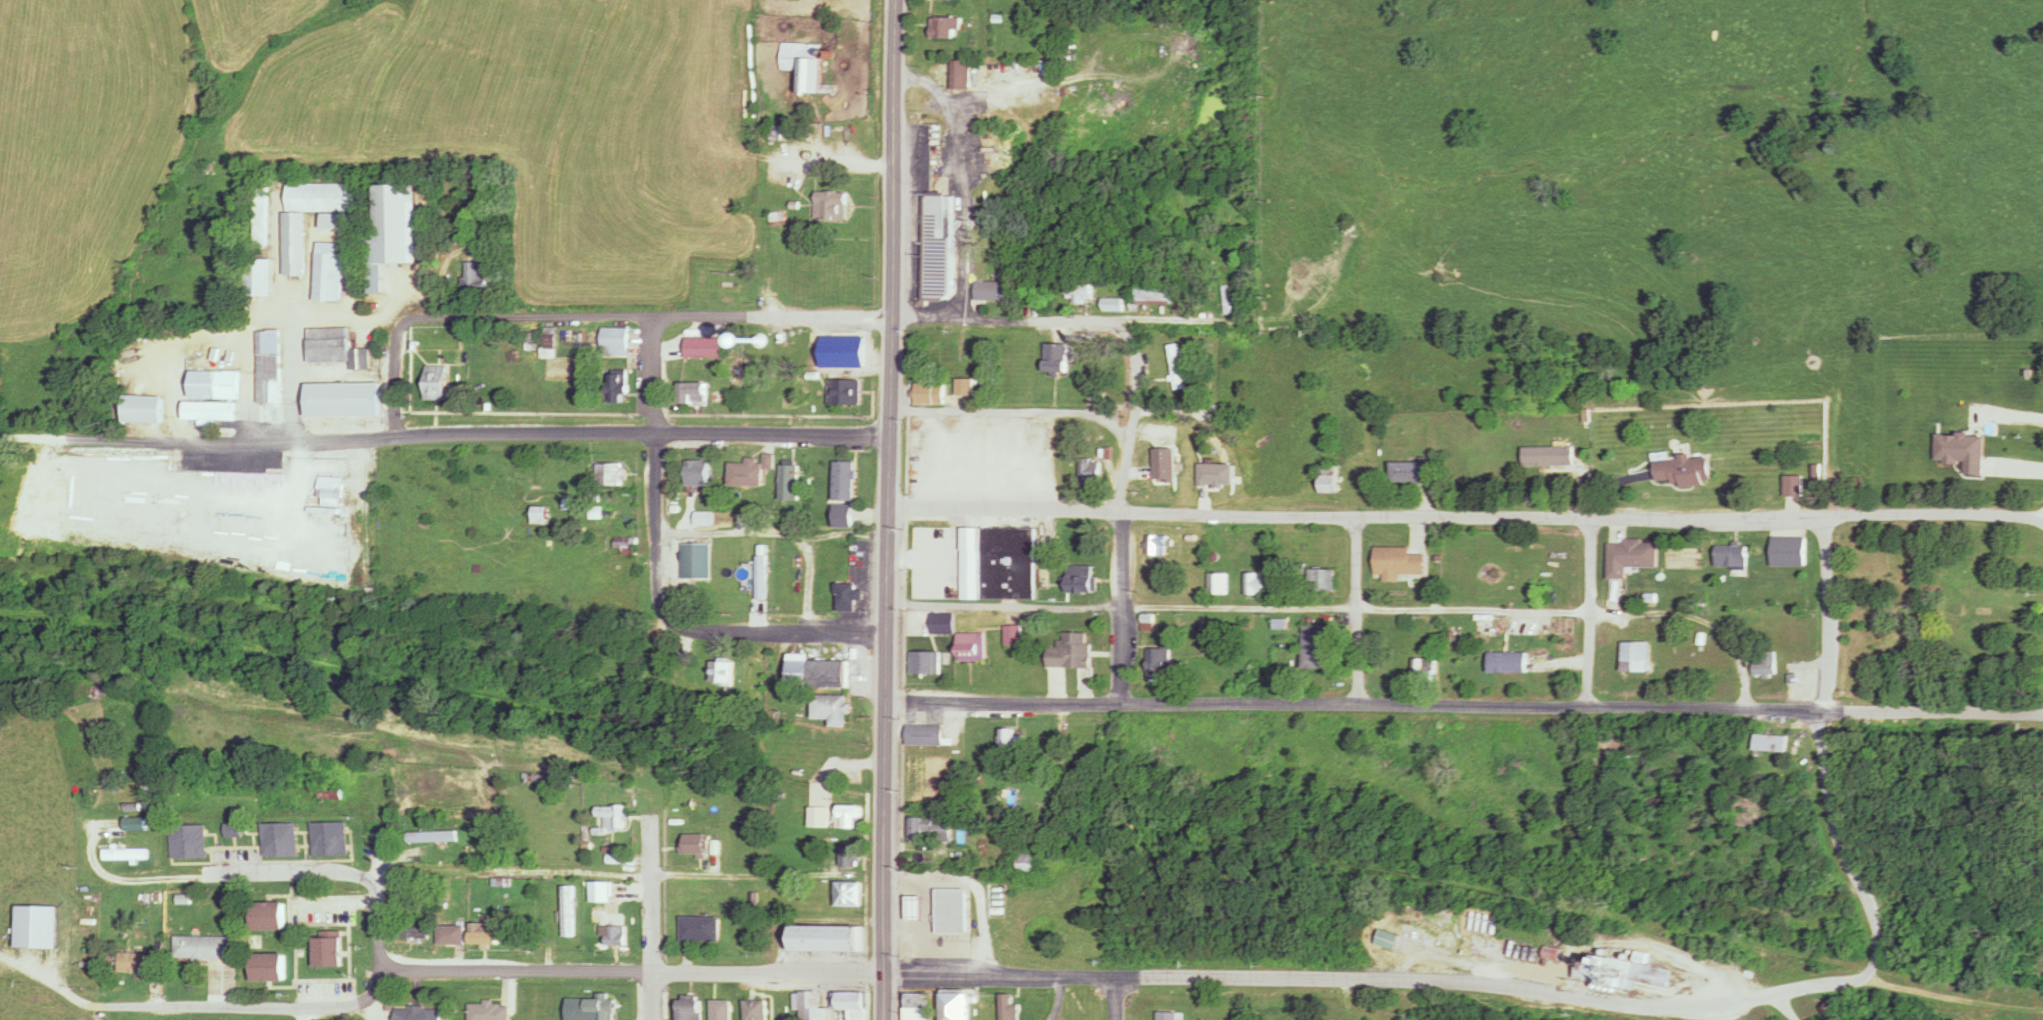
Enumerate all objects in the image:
building: (945, 28)
building: (959, 75)
road: (894, 155)
building: (830, 206)
building: (337, 221)
building: (391, 233)
building: (294, 243)
building: (938, 248)
building: (1200, 252)
building: (327, 273)
building: (258, 278)
building: (474, 278)
building: (991, 291)
building: (1079, 292)
building: (1153, 295)
building: (1111, 305)
road: (1011, 316)
road: (653, 317)
building: (614, 342)
building: (705, 348)
building: (335, 349)
building: (1057, 359)
building: (1174, 367)
building: (269, 374)
road: (395, 374)
building: (434, 382)
building: (214, 385)
building: (618, 386)
building: (965, 387)
building: (844, 392)
building: (693, 394)
building: (928, 394)
building: (789, 395)
building: (342, 400)
building: (144, 409)
building: (211, 411)
road: (775, 432)
road: (329, 440)
building: (1546, 455)
building: (1174, 463)
road: (657, 468)
building: (1682, 469)
building: (1089, 471)
building: (1409, 471)
building: (748, 472)
building: (696, 473)
building: (610, 474)
building: (1328, 478)
building: (788, 483)
building: (1792, 484)
building: (330, 492)
building: (844, 494)
road: (1007, 508)
road: (1239, 512)
building: (539, 515)
road: (1699, 515)
road: (1121, 516)
building: (702, 518)
road: (2042, 522)
building: (624, 543)
building: (1159, 544)
building: (1788, 550)
building: (1632, 553)
building: (2005, 555)
building: (984, 556)
building: (1731, 556)
building: (695, 561)
building: (927, 562)
building: (1322, 579)
building: (1899, 579)
building: (1217, 583)
building: (1256, 583)
building: (1083, 584)
building: (2002, 586)
building: (940, 592)
building: (849, 596)
road: (1005, 608)
road: (1356, 609)
road: (1585, 609)
road: (1238, 610)
building: (942, 623)
road: (776, 630)
building: (1913, 632)
building: (1015, 634)
road: (890, 643)
building: (973, 646)
building: (1311, 646)
building: (1072, 650)
building: (1634, 655)
building: (1861, 655)
building: (1507, 661)
building: (927, 662)
building: (1158, 662)
building: (1763, 663)
building: (1422, 669)
building: (721, 672)
building: (820, 673)
road: (1466, 703)
building: (833, 709)
building: (928, 735)
building: (1011, 741)
building: (1768, 742)
road: (1820, 753)
building: (131, 807)
building: (613, 816)
building: (849, 816)
building: (818, 817)
building: (134, 824)
building: (932, 828)
building: (432, 837)
building: (330, 839)
building: (280, 840)
building: (187, 842)
building: (693, 845)
building: (124, 854)
building: (851, 856)
building: (1029, 860)
road: (335, 871)
building: (601, 891)
building: (849, 894)
building: (916, 906)
gas station: (916, 906)
building: (952, 910)
building: (568, 911)
building: (267, 916)
road: (652, 917)
building: (700, 929)
building: (422, 930)
building: (484, 933)
building: (451, 935)
building: (613, 935)
building: (826, 939)
building: (1387, 939)
building: (203, 948)
building: (328, 952)
building: (38, 954)
building: (267, 966)
road: (632, 970)
building: (1621, 972)
building: (127, 973)
building: (2, 975)
road: (1375, 978)
road: (884, 998)
road: (1114, 998)
building: (849, 1000)
building: (918, 1006)
building: (955, 1006)
road: (280, 1007)
building: (811, 1007)
building: (1009, 1008)
road: (1783, 1008)
building: (600, 1009)
building: (689, 1009)
building: (720, 1009)
building: (755, 1009)
road: (362, 1010)
building: (489, 1011)
building: (420, 1013)
building: (1169, 1015)

